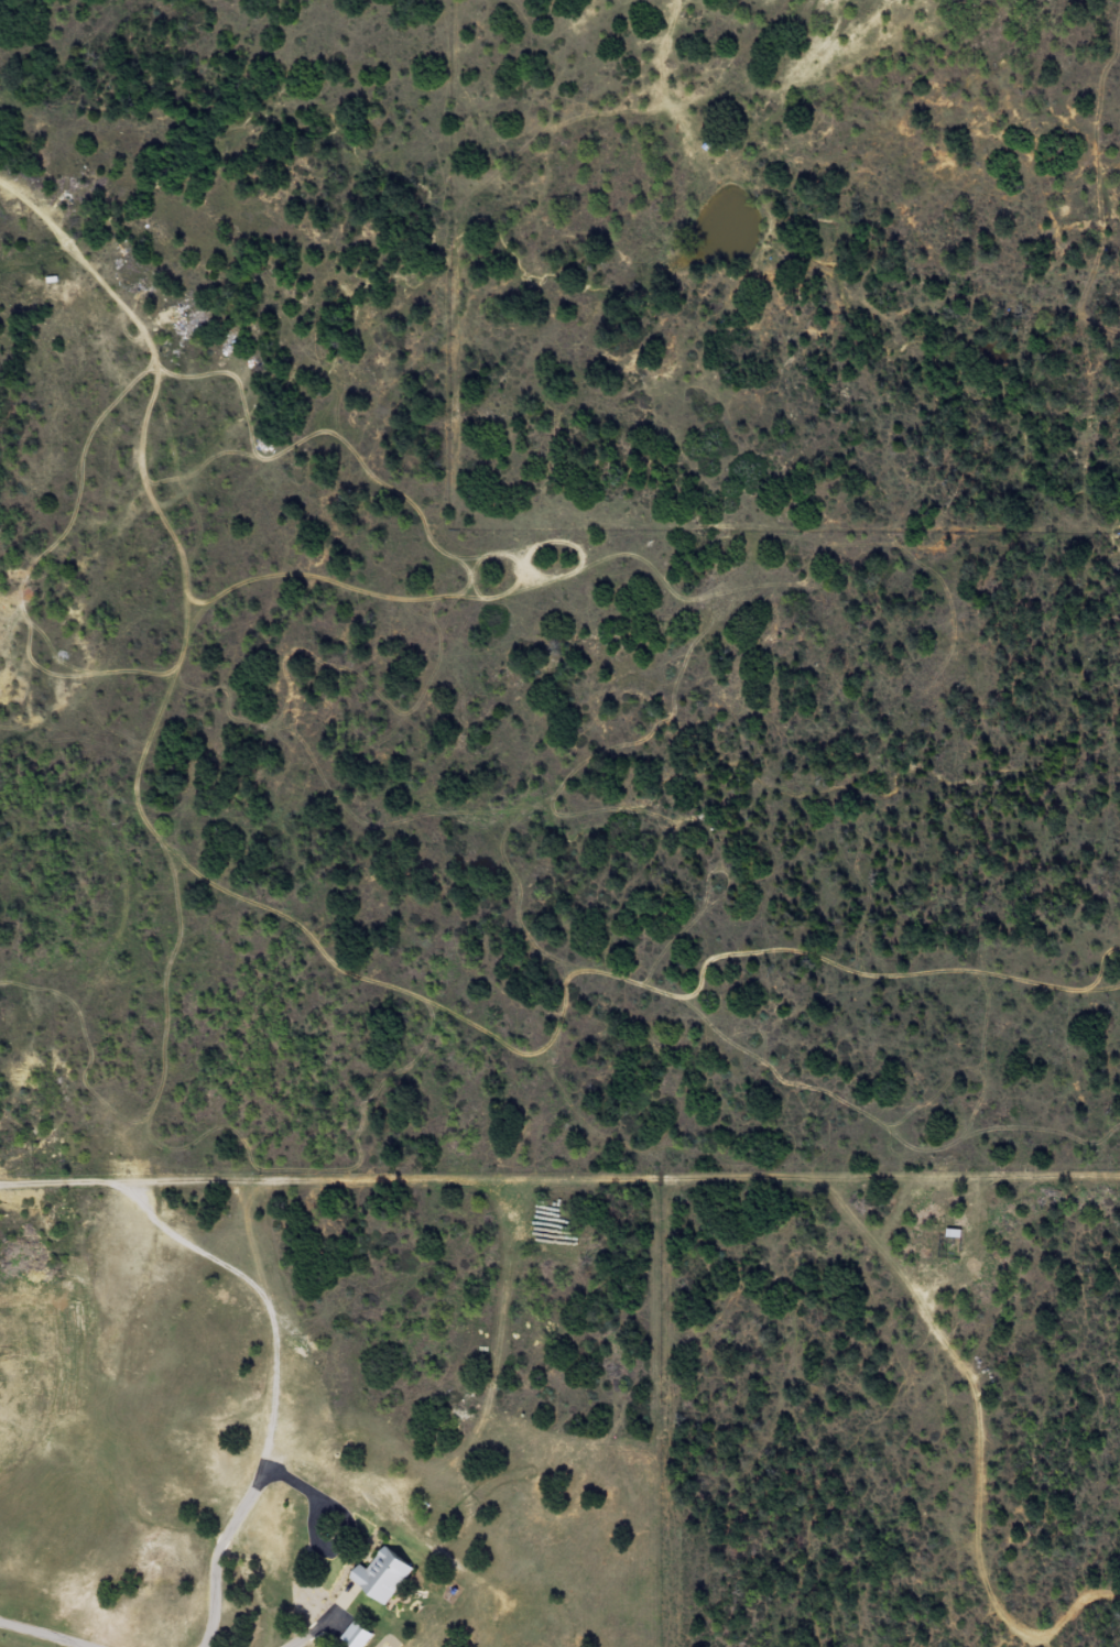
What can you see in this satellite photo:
road: (490, 1037)
building: (949, 1234)
building: (388, 1573)

